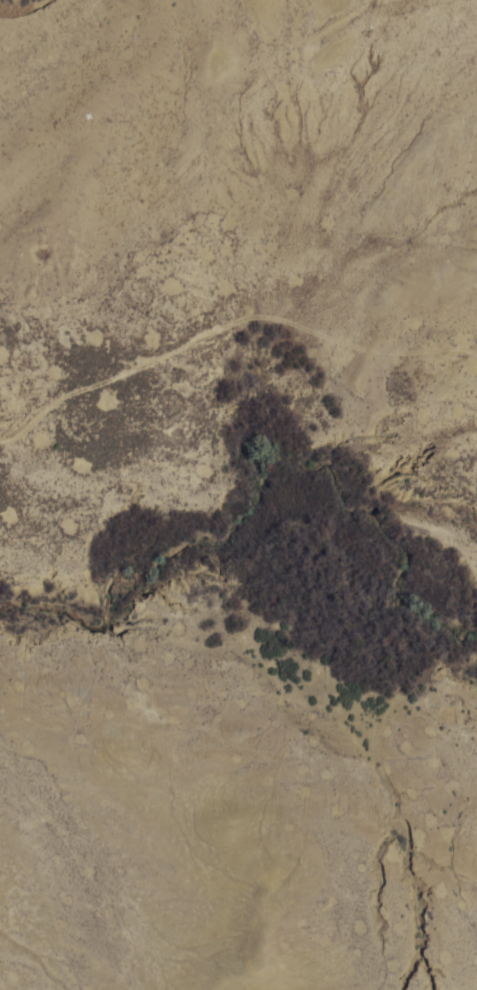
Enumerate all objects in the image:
road: (237, 300)
river: (238, 544)
road: (238, 657)

